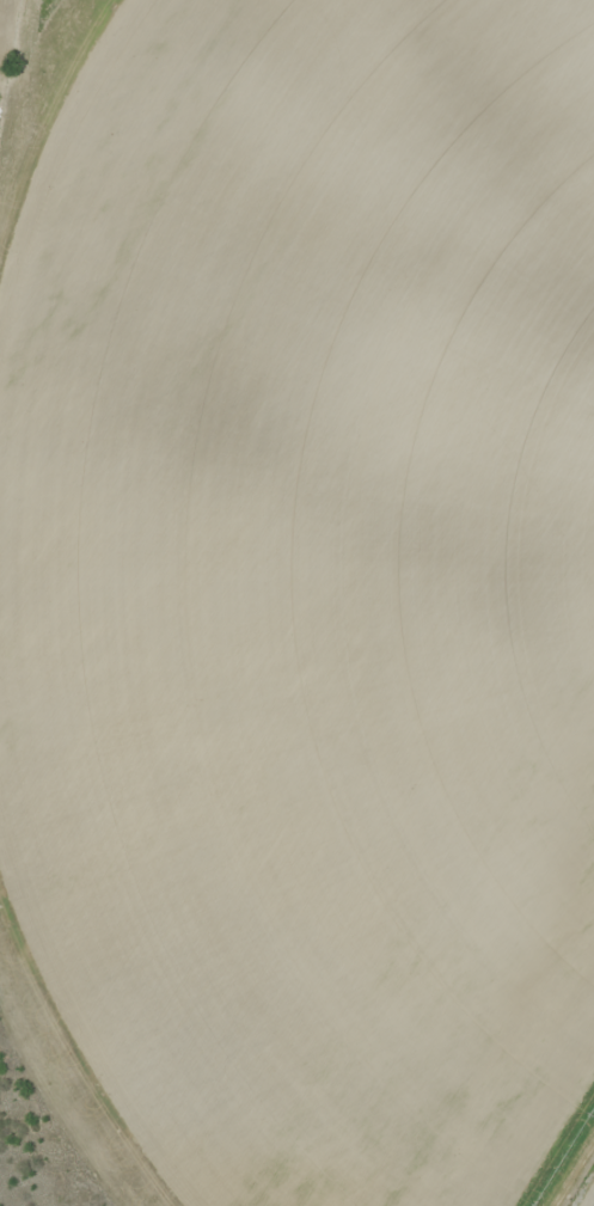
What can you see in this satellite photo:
road: (2, 20)
road: (583, 1189)

